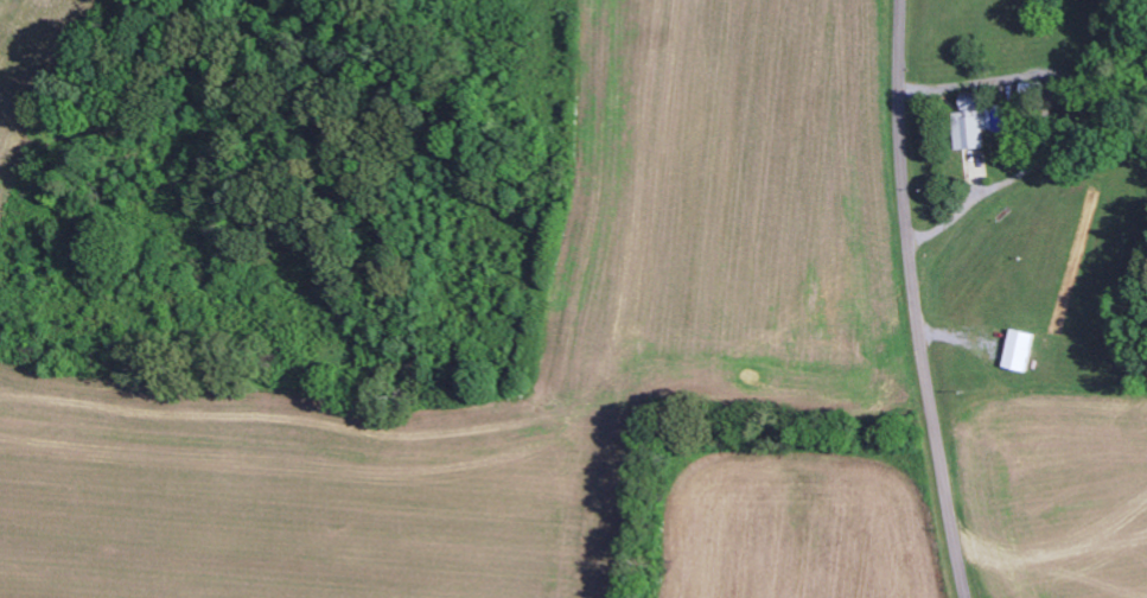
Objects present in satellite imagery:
building: (973, 126)
road: (913, 300)
building: (1021, 349)

